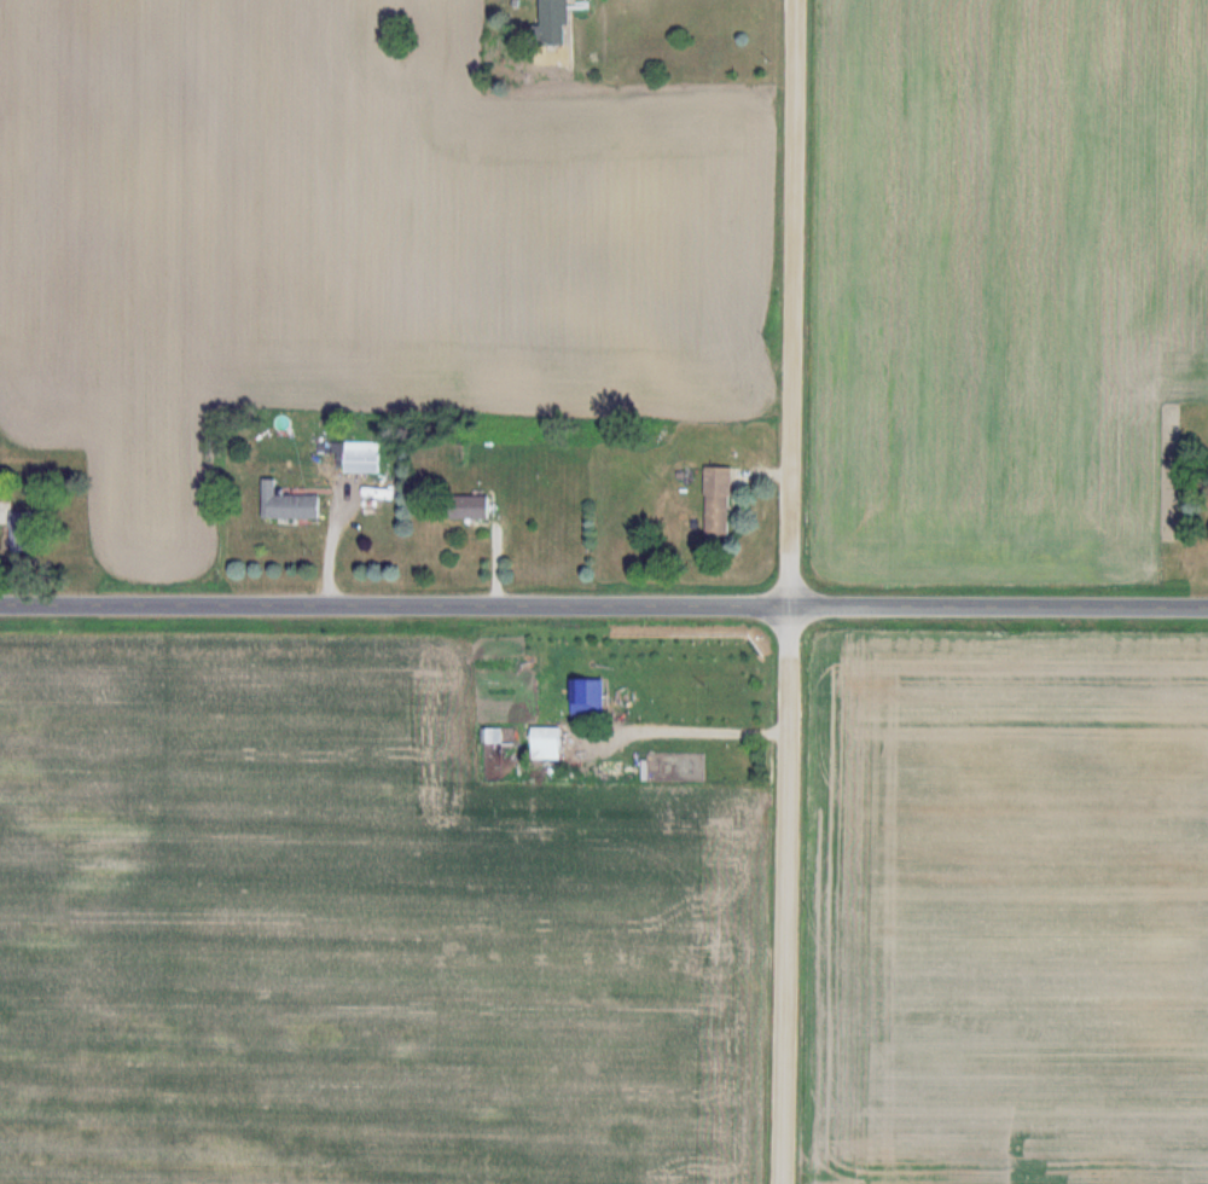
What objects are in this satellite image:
building: (559, 22)
building: (365, 458)
building: (387, 489)
building: (291, 504)
building: (720, 505)
building: (472, 509)
building: (25, 532)
road: (800, 592)
road: (604, 606)
building: (590, 698)
building: (550, 744)

